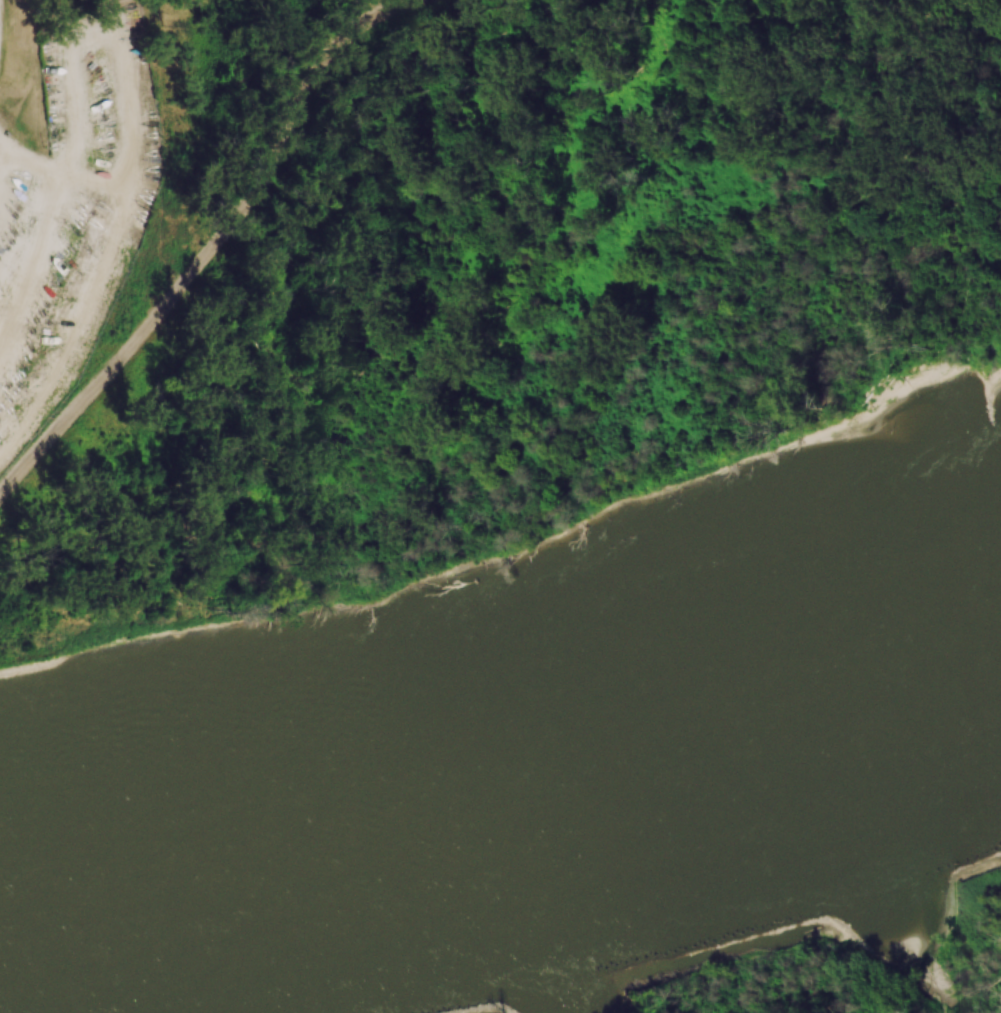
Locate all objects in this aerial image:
road: (92, 23)
road: (13, 147)
road: (12, 157)
road: (42, 162)
road: (89, 173)
road: (49, 194)
road: (123, 196)
road: (218, 242)
park: (453, 281)
river: (503, 778)

